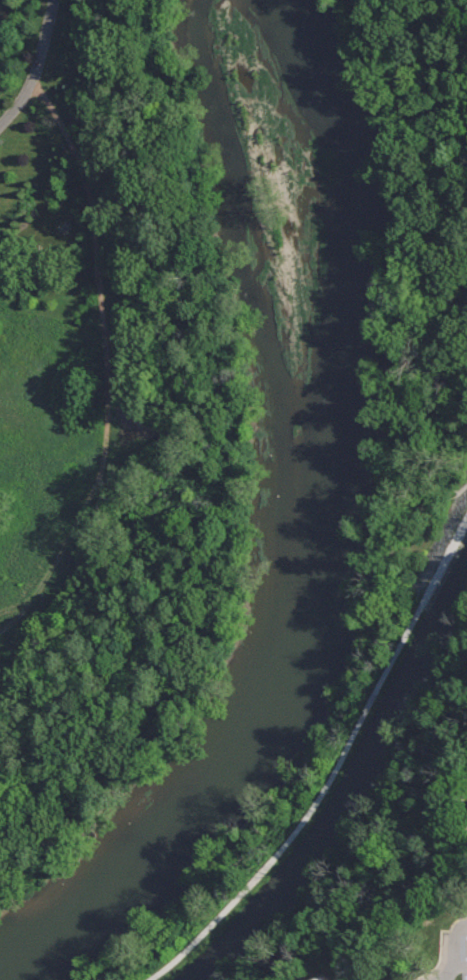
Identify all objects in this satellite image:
road: (38, 68)
road: (426, 230)
river: (318, 537)
road: (334, 771)
road: (457, 948)
parking lot: (458, 948)
road: (462, 967)
road: (449, 977)

